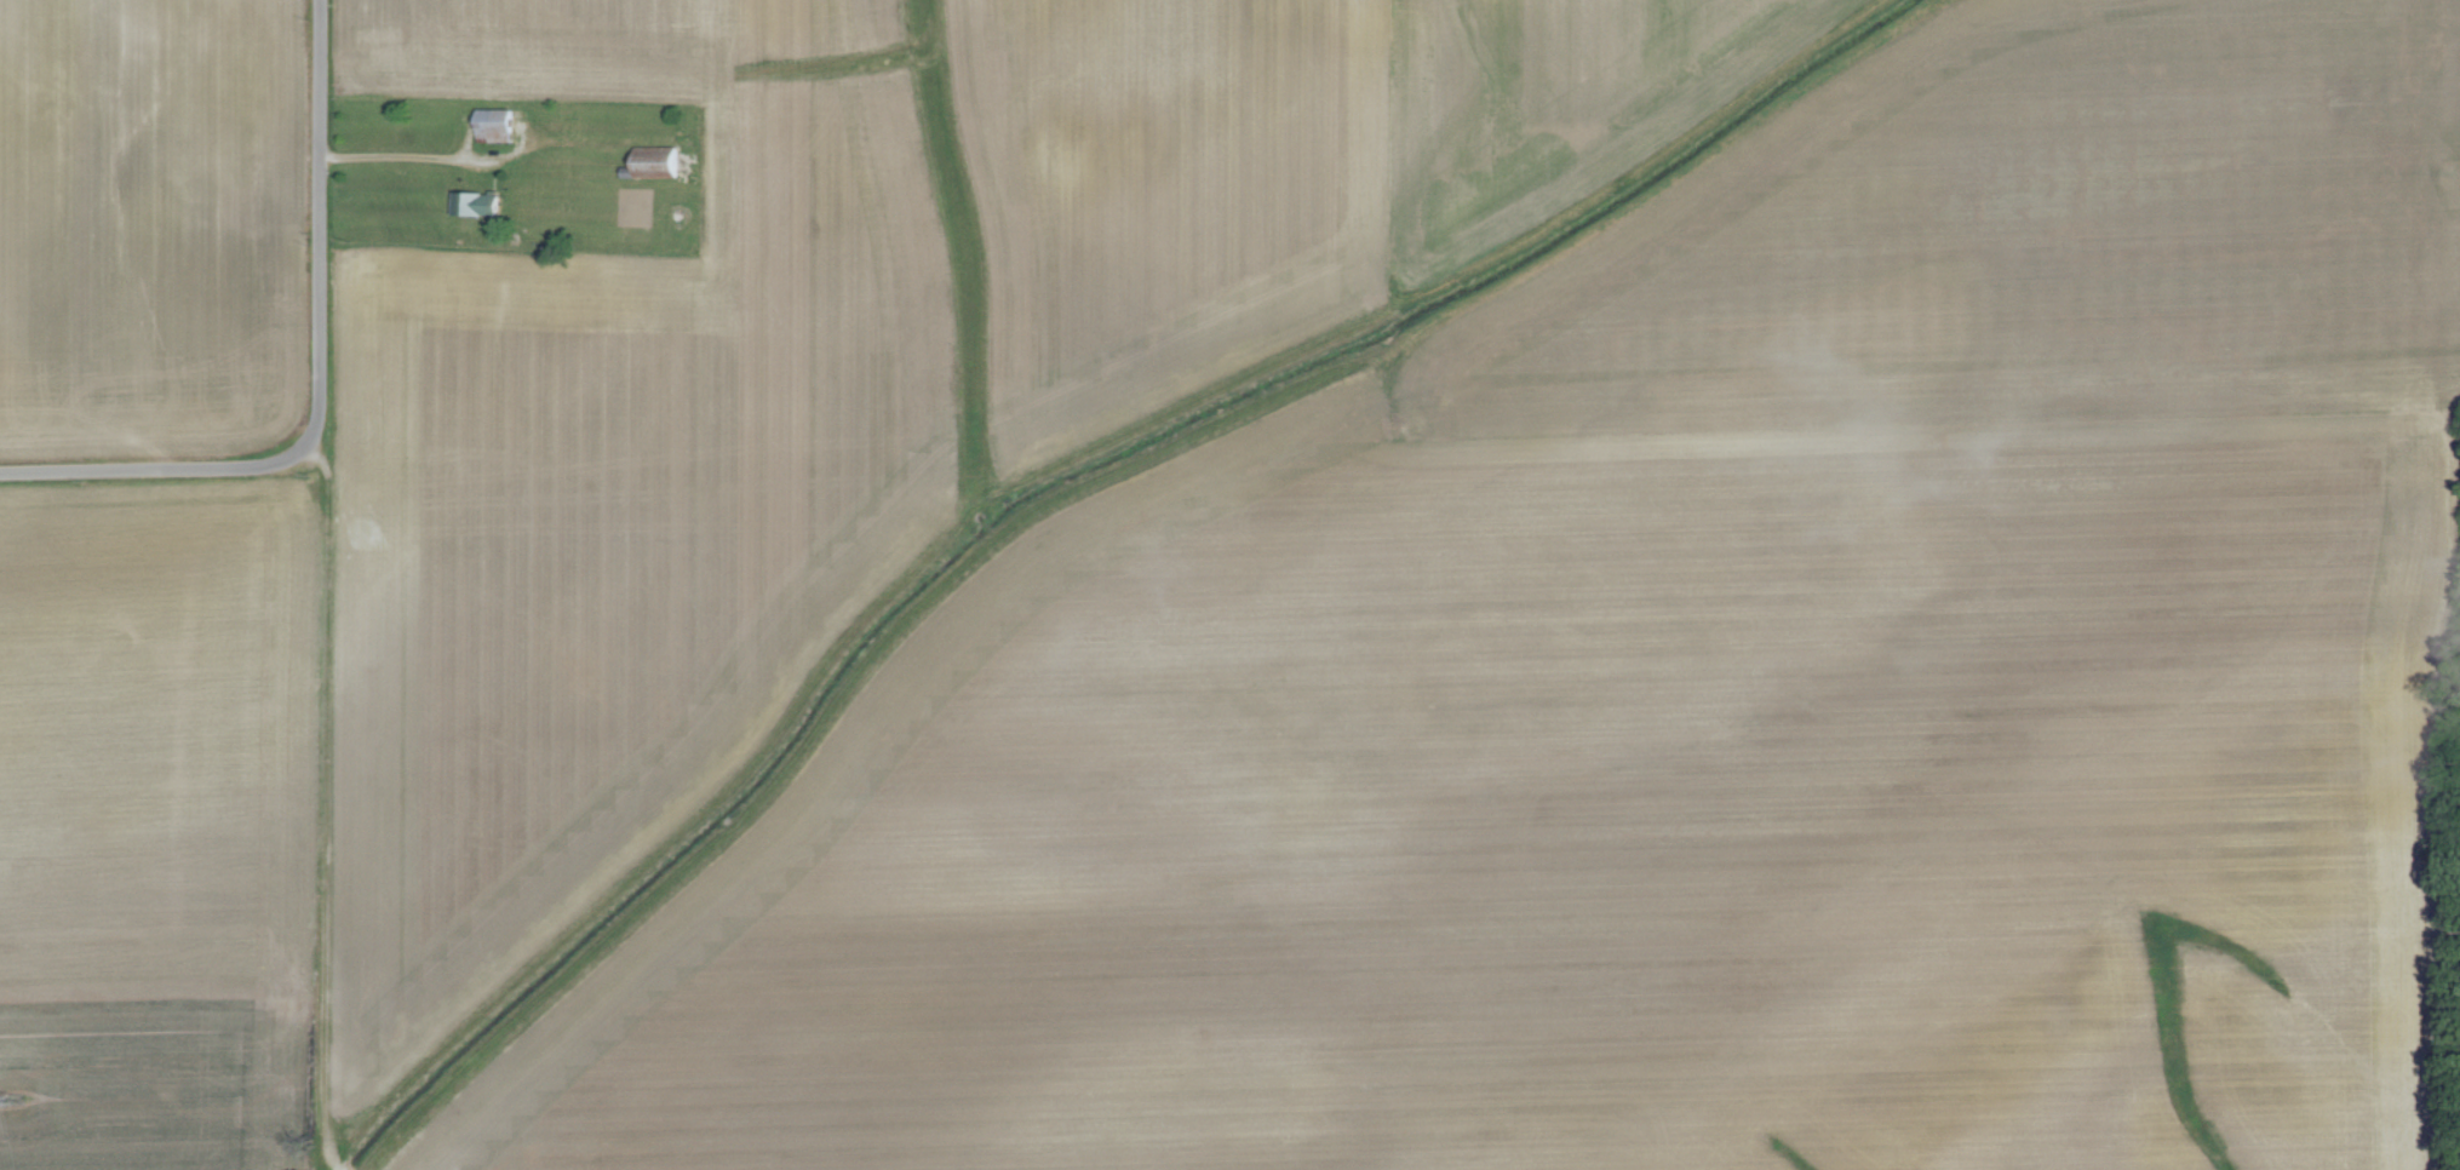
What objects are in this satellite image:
road: (401, 151)
building: (475, 203)
road: (316, 229)
road: (149, 468)
power tower: (22, 1105)

